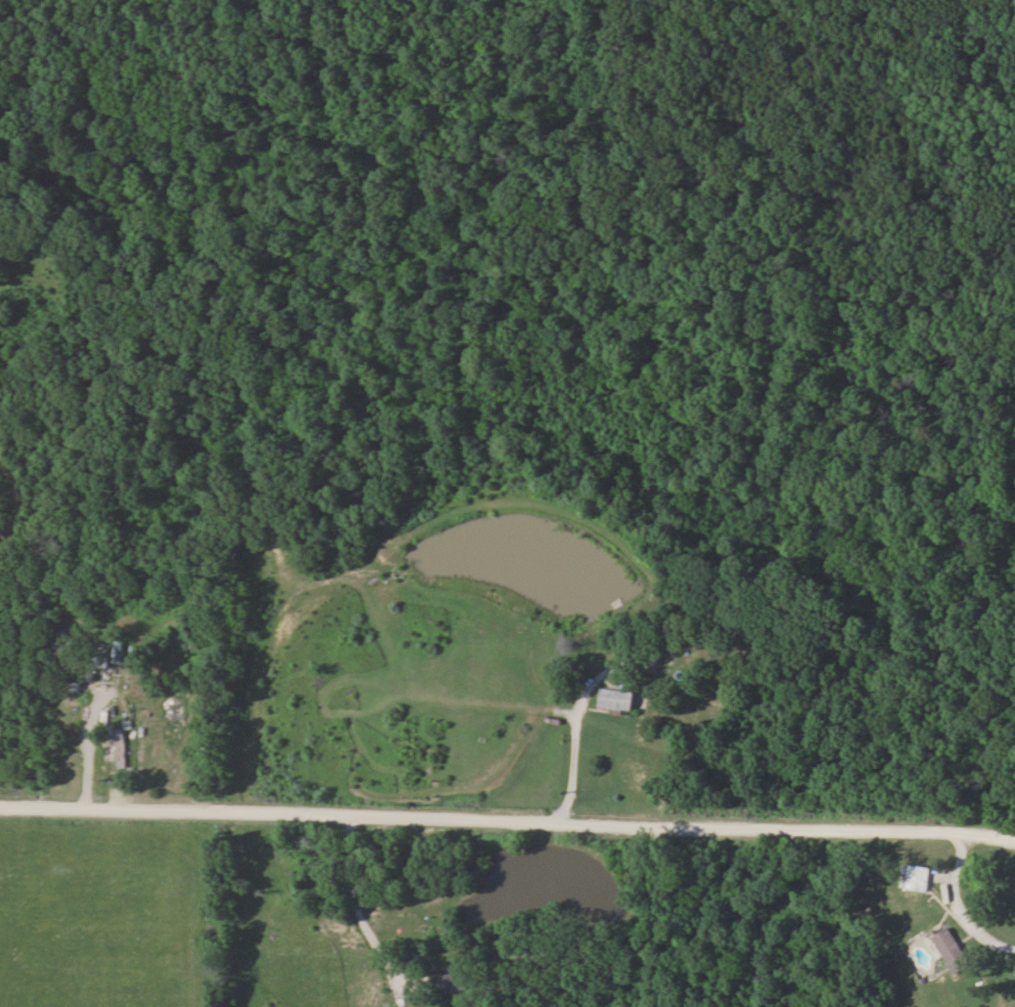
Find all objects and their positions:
building: (107, 671)
building: (617, 698)
road: (570, 723)
building: (118, 749)
road: (507, 821)
building: (921, 878)
road: (953, 907)
road: (351, 911)
building: (952, 950)
building: (449, 982)

